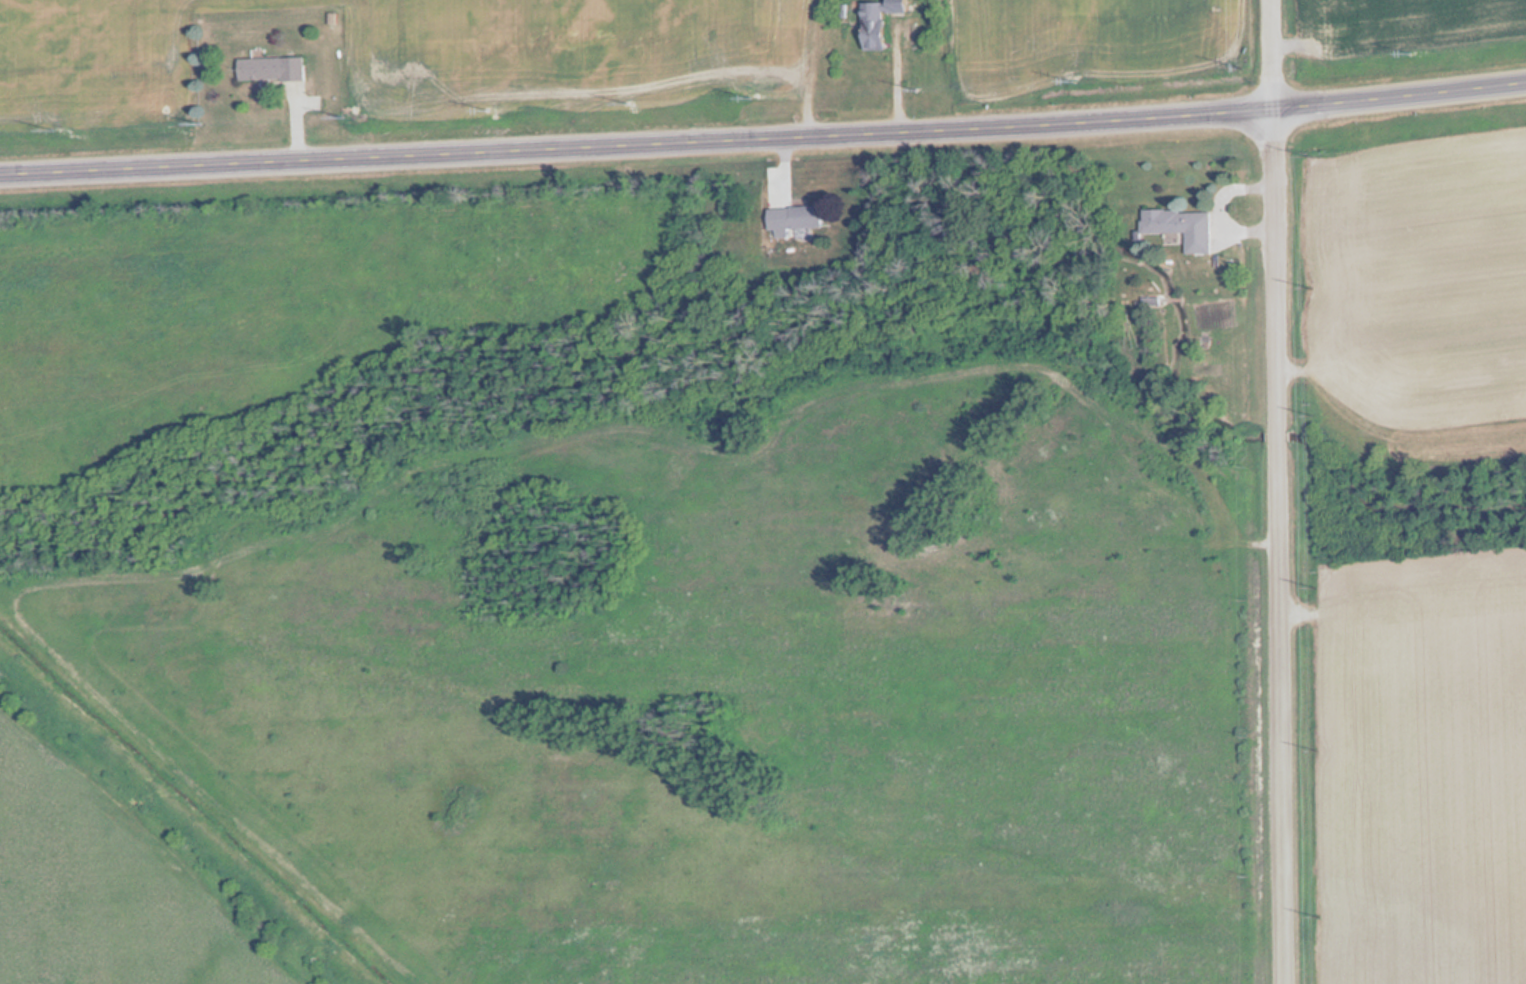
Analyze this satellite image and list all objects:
building: (876, 21)
road: (1271, 55)
building: (268, 69)
road: (763, 141)
building: (797, 216)
building: (1178, 226)
road: (1278, 546)

